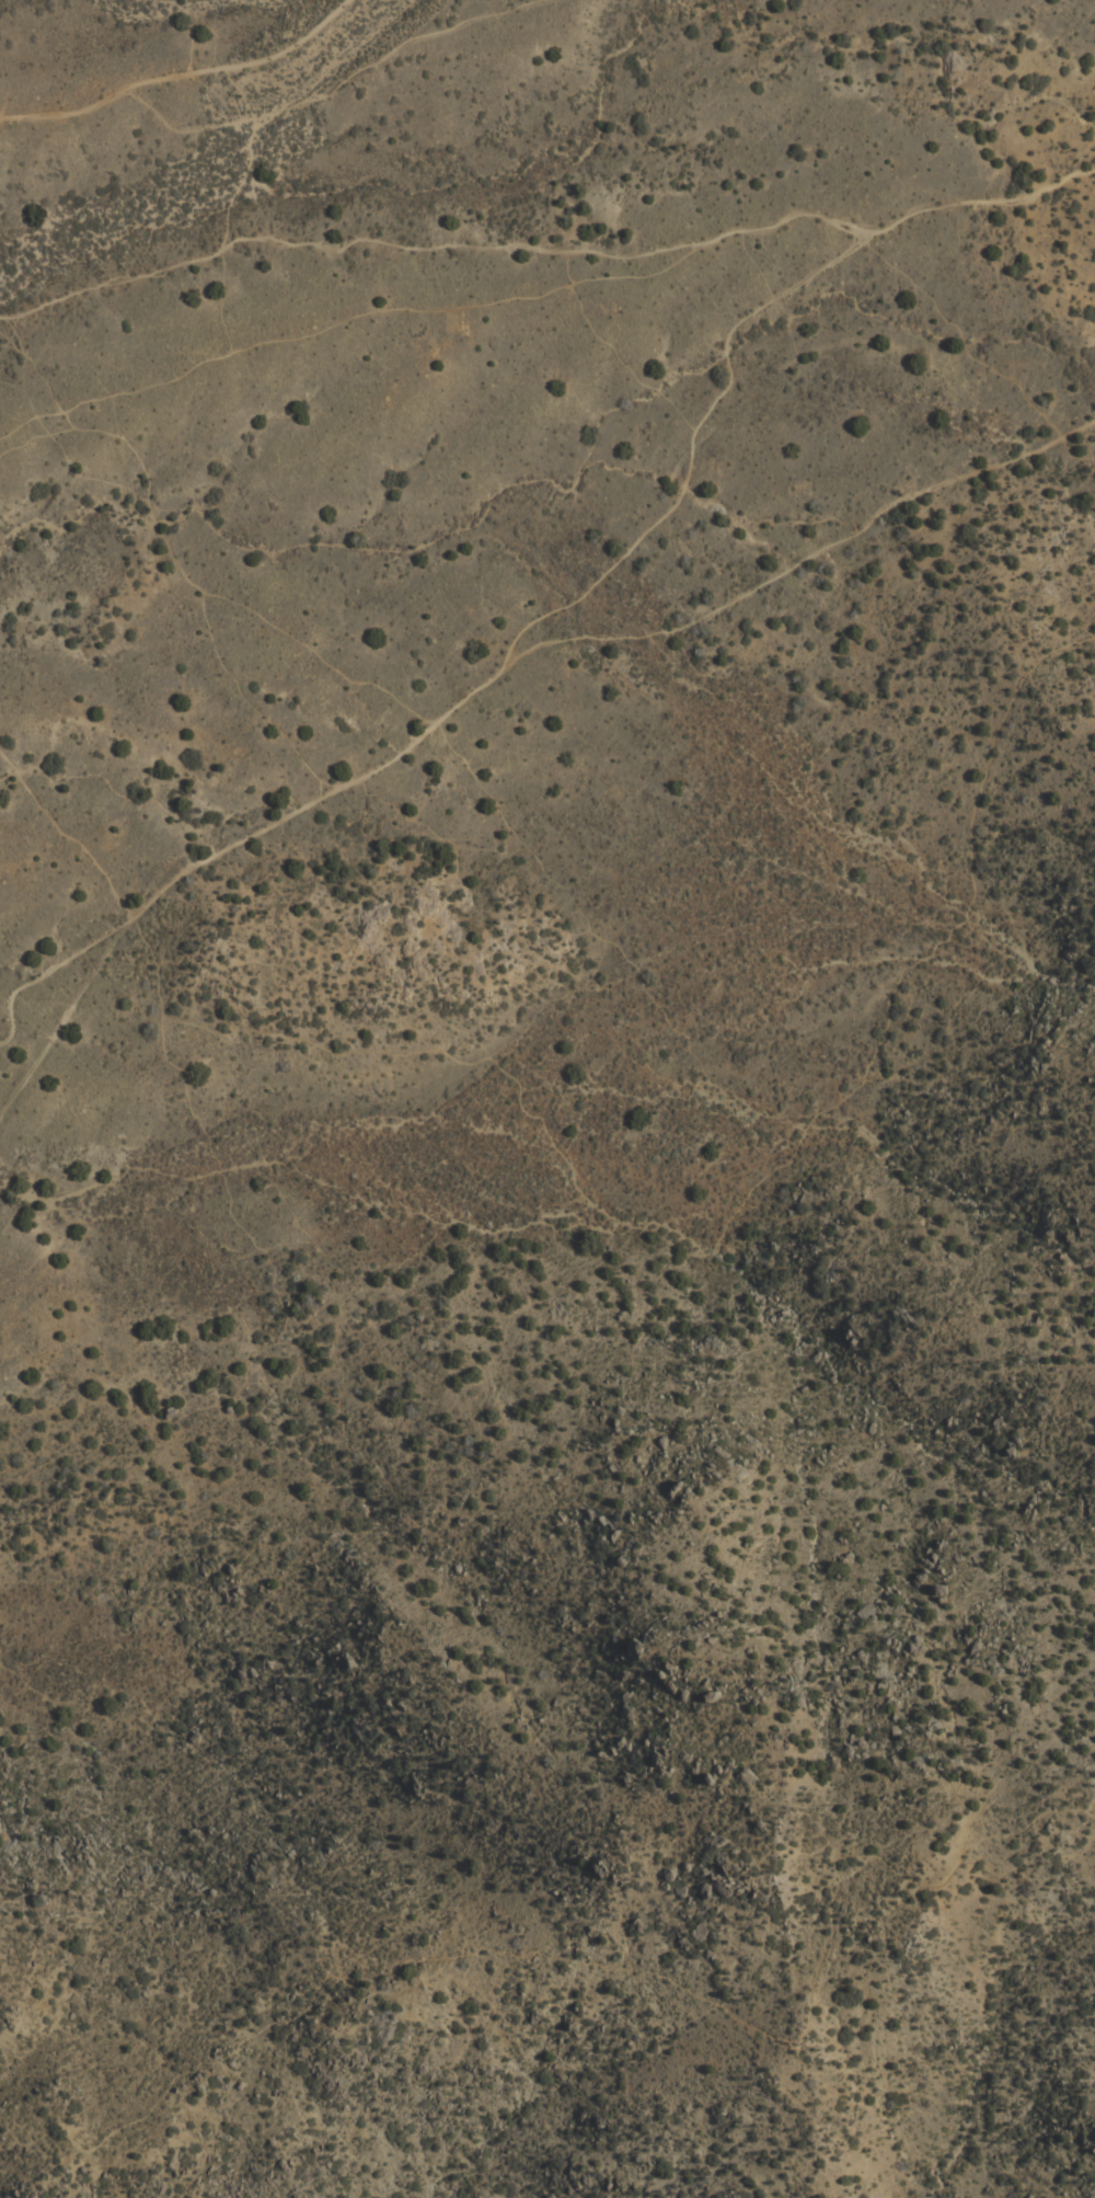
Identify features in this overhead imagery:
road: (180, 75)
road: (338, 84)
road: (191, 128)
road: (550, 252)
road: (321, 327)
road: (967, 335)
road: (896, 502)
road: (177, 565)
road: (603, 637)
road: (484, 685)
road: (68, 829)
road: (933, 949)
road: (429, 1050)
road: (639, 1971)

